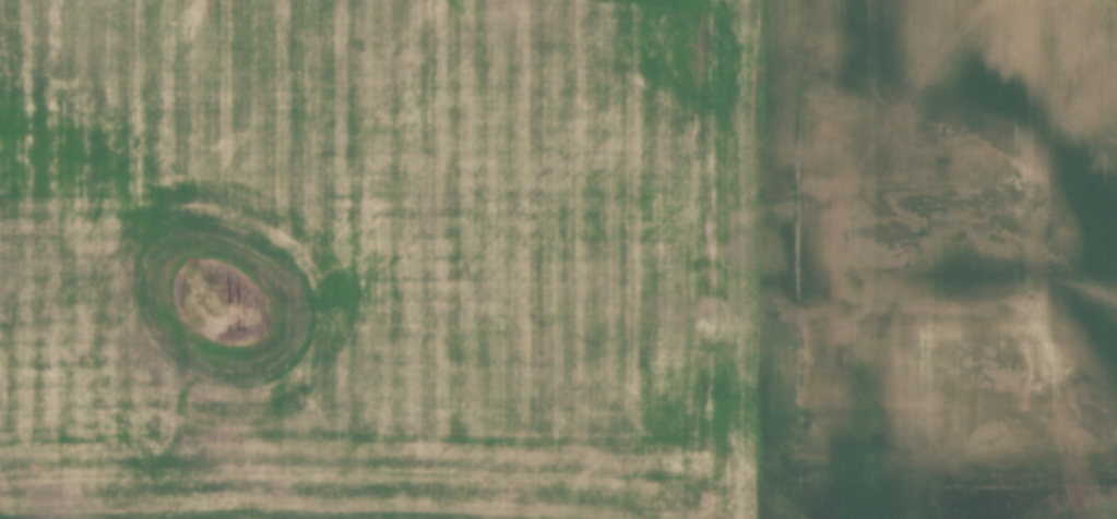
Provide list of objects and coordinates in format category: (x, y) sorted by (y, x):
road: (797, 259)

